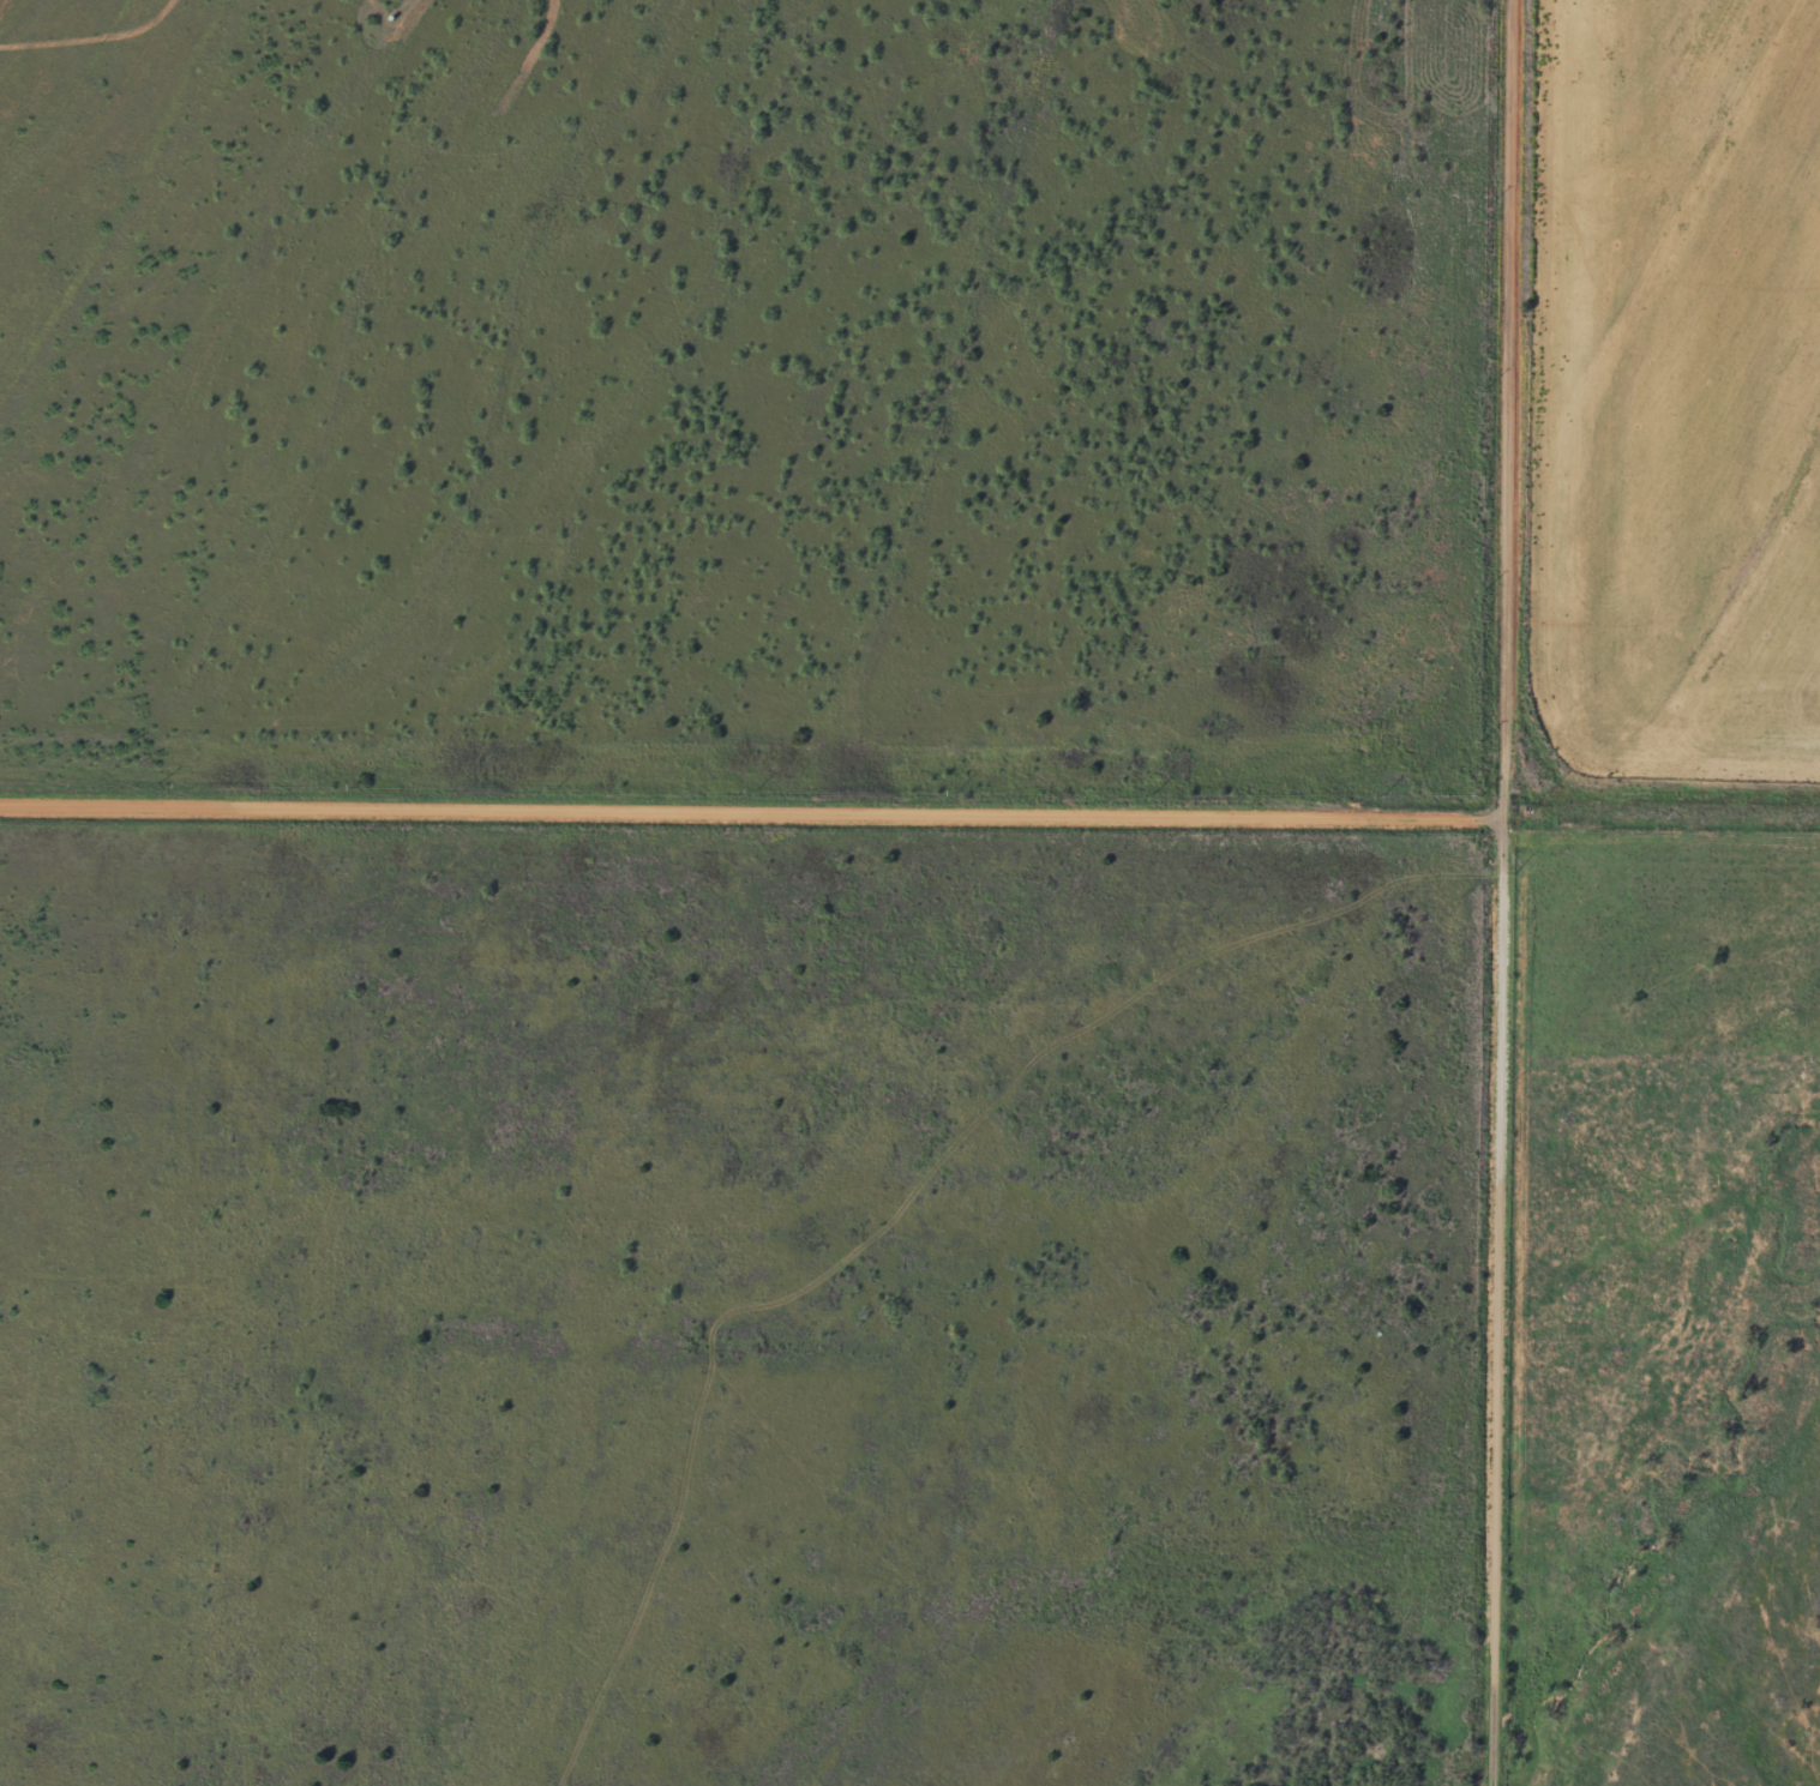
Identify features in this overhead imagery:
road: (753, 806)
road: (1507, 892)

